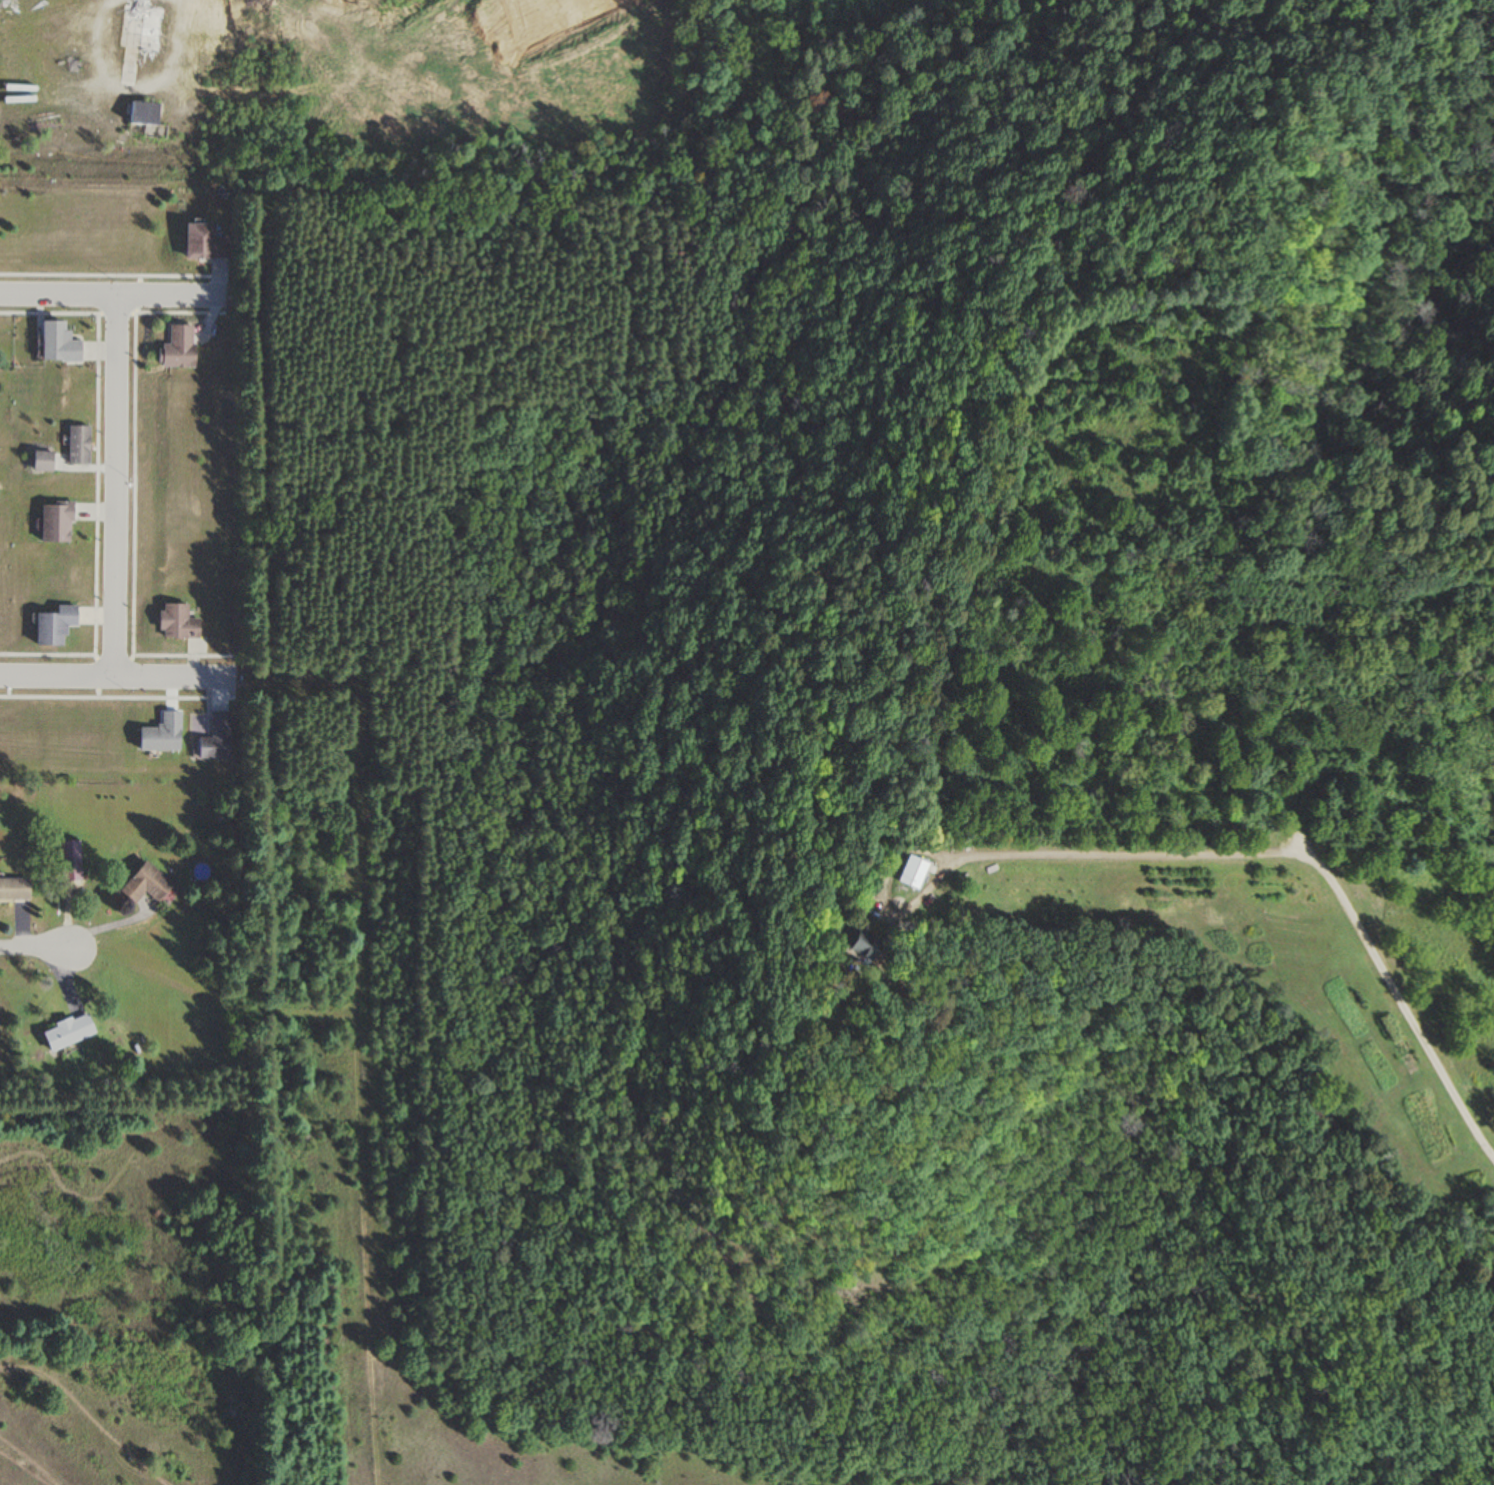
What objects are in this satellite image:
building: (150, 29)
quarry: (196, 78)
building: (144, 113)
road: (113, 293)
building: (179, 347)
building: (77, 445)
building: (42, 461)
road: (118, 483)
building: (55, 522)
building: (177, 622)
road: (117, 672)
building: (162, 734)
building: (216, 737)
building: (914, 873)
building: (147, 884)
building: (14, 889)
road: (36, 945)
building: (864, 946)
road: (1430, 1022)
building: (68, 1032)

